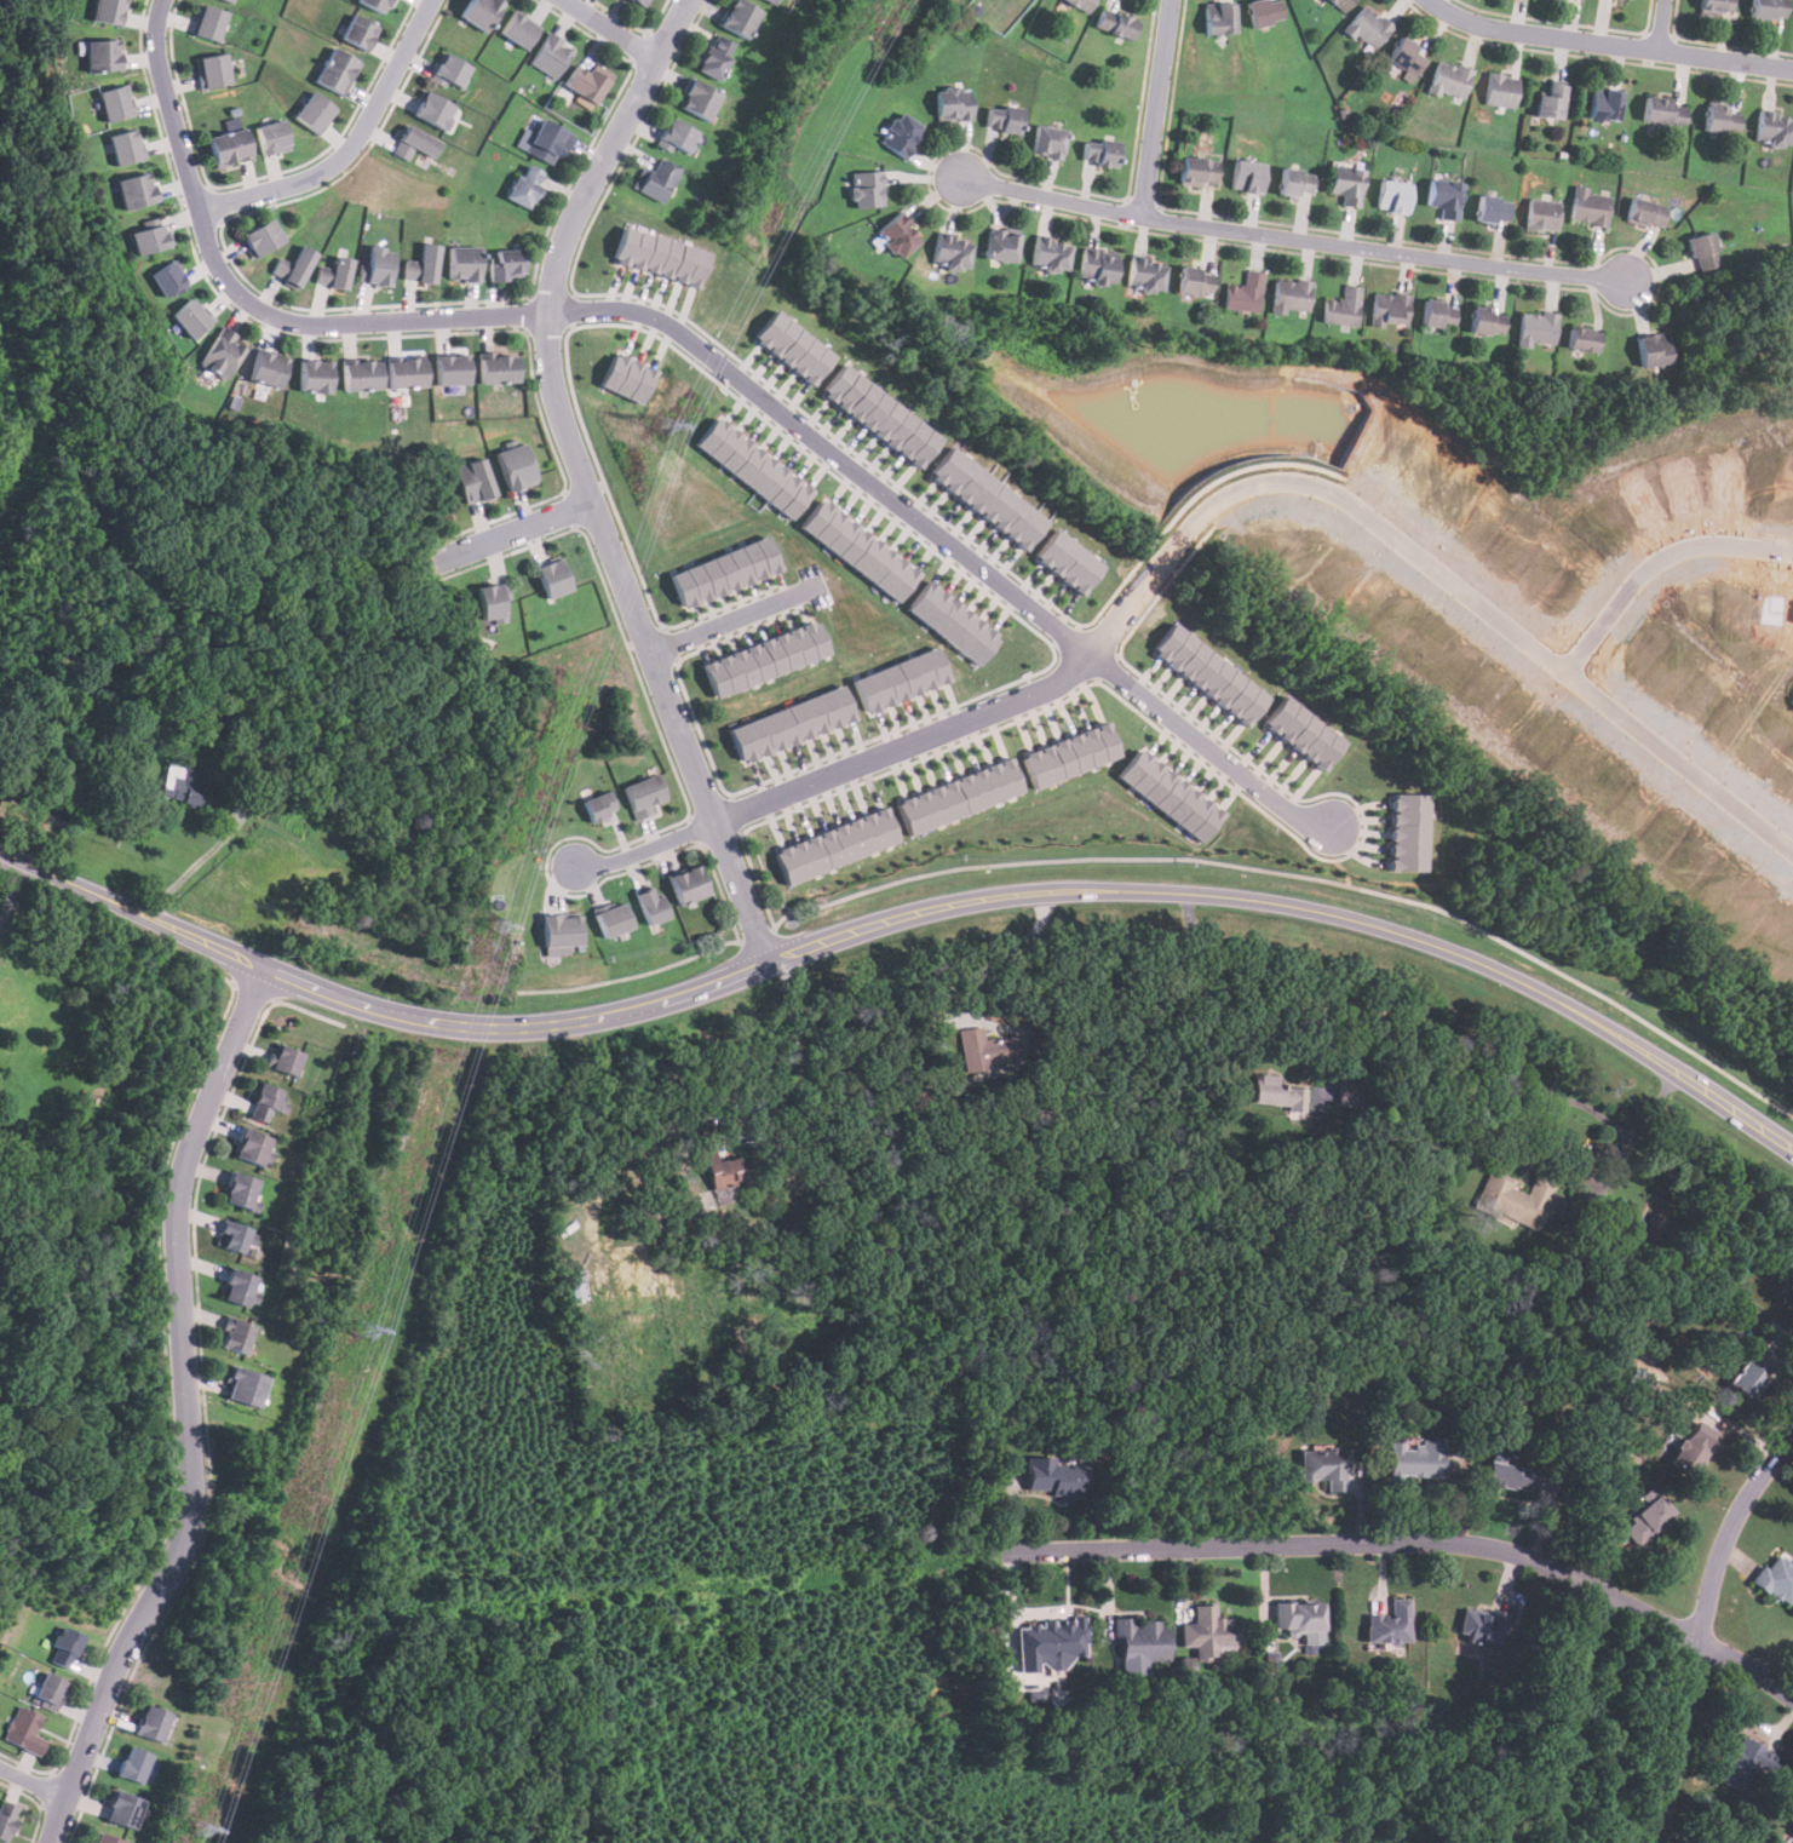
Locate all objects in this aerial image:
building: (229, 0)
building: (223, 1)
building: (774, 1)
building: (636, 2)
building: (372, 4)
building: (1081, 4)
building: (1340, 5)
building: (1716, 6)
building: (1768, 8)
building: (107, 11)
building: (1264, 11)
building: (479, 12)
building: (740, 17)
building: (1218, 17)
building: (207, 22)
building: (1115, 23)
road: (1663, 25)
building: (1368, 28)
building: (517, 29)
road: (611, 29)
building: (356, 31)
road: (1609, 45)
building: (551, 53)
building: (102, 54)
building: (1407, 56)
building: (716, 57)
building: (209, 70)
building: (334, 70)
building: (448, 70)
building: (586, 80)
building: (1449, 80)
building: (1501, 91)
building: (700, 99)
building: (1550, 101)
building: (116, 102)
building: (952, 103)
building: (1604, 103)
road: (1155, 108)
building: (432, 110)
building: (1662, 110)
building: (312, 113)
building: (1002, 117)
building: (1720, 117)
building: (1774, 128)
building: (900, 134)
building: (677, 136)
building: (270, 138)
building: (1046, 140)
building: (546, 142)
building: (413, 143)
building: (126, 145)
road: (351, 147)
building: (228, 148)
building: (1098, 151)
building: (1197, 171)
building: (1246, 176)
building: (655, 179)
building: (1295, 183)
building: (1346, 184)
building: (523, 185)
building: (867, 189)
building: (134, 191)
building: (1392, 196)
building: (1444, 197)
building: (1587, 207)
building: (1493, 209)
building: (1645, 212)
building: (1541, 216)
building: (897, 236)
building: (258, 237)
building: (148, 239)
road: (1293, 239)
building: (1001, 246)
building: (1702, 252)
building: (952, 253)
building: (1050, 253)
building: (661, 256)
building: (460, 263)
building: (421, 264)
building: (504, 264)
building: (374, 265)
building: (292, 266)
building: (1097, 266)
building: (332, 272)
building: (1145, 274)
building: (162, 279)
building: (1194, 280)
building: (1243, 293)
building: (1291, 295)
building: (1341, 308)
building: (1389, 309)
building: (1437, 314)
building: (186, 318)
building: (1485, 321)
building: (1536, 328)
building: (1582, 339)
building: (794, 346)
road: (703, 349)
building: (1653, 349)
building: (219, 354)
building: (496, 367)
building: (449, 368)
building: (265, 369)
building: (404, 372)
building: (360, 374)
building: (312, 377)
building: (628, 377)
building: (881, 414)
power tower: (661, 424)
building: (516, 466)
building: (754, 467)
building: (473, 480)
road: (586, 481)
building: (987, 498)
road: (1199, 522)
road: (510, 534)
building: (860, 550)
building: (1067, 561)
road: (1659, 570)
building: (724, 572)
building: (553, 578)
building: (493, 601)
road: (732, 619)
building: (952, 622)
building: (765, 658)
building: (1209, 673)
building: (900, 679)
building: (789, 723)
building: (1304, 731)
building: (1070, 753)
building: (180, 785)
building: (644, 794)
building: (1171, 794)
building: (960, 796)
building: (598, 805)
building: (1409, 832)
building: (837, 845)
road: (1, 856)
road: (199, 860)
road: (73, 884)
building: (685, 885)
road: (12, 892)
building: (650, 906)
building: (613, 919)
road: (909, 919)
power tower: (498, 925)
building: (559, 932)
road: (1260, 971)
road: (975, 976)
building: (981, 1049)
building: (283, 1060)
building: (1276, 1092)
building: (1349, 1093)
road: (775, 1096)
building: (266, 1102)
road: (1731, 1113)
building: (251, 1147)
road: (1625, 1152)
building: (718, 1169)
building: (240, 1192)
building: (1512, 1200)
building: (230, 1236)
building: (576, 1285)
building: (236, 1288)
power tower: (364, 1326)
building: (235, 1336)
building: (1751, 1373)
building: (245, 1388)
road: (186, 1412)
building: (1690, 1447)
building: (1415, 1458)
building: (1324, 1466)
building: (1054, 1475)
building: (1510, 1476)
building: (1648, 1495)
building: (1647, 1520)
road: (1418, 1541)
building: (1776, 1578)
building: (1300, 1619)
building: (1390, 1623)
building: (1481, 1623)
road: (1701, 1630)
building: (1209, 1631)
building: (1047, 1640)
building: (1140, 1640)
building: (64, 1648)
building: (47, 1690)
building: (150, 1723)
building: (24, 1732)
building: (1745, 1762)
building: (132, 1763)
road: (31, 1782)
building: (121, 1807)
building: (5, 1816)
power tower: (200, 1827)
building: (1791, 1830)
building: (104, 1838)

